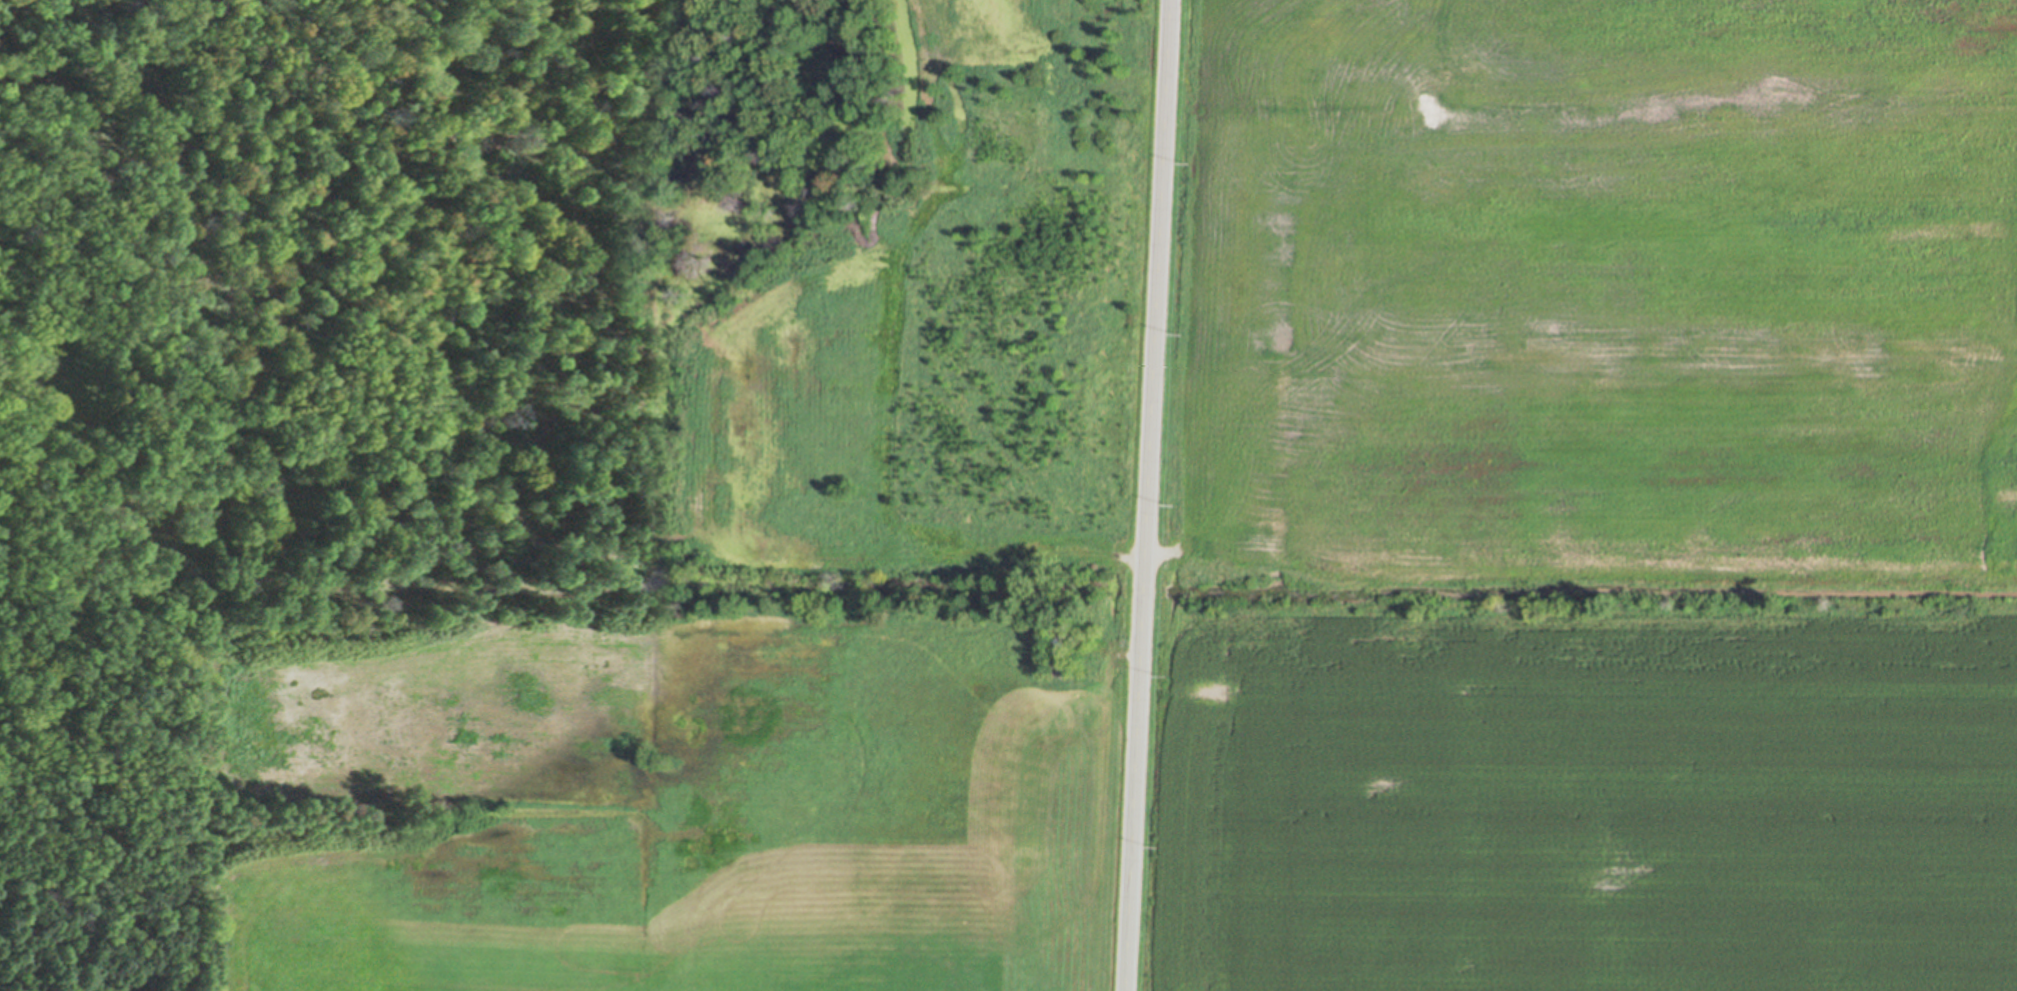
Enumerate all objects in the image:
road: (1149, 495)
building: (1063, 644)

